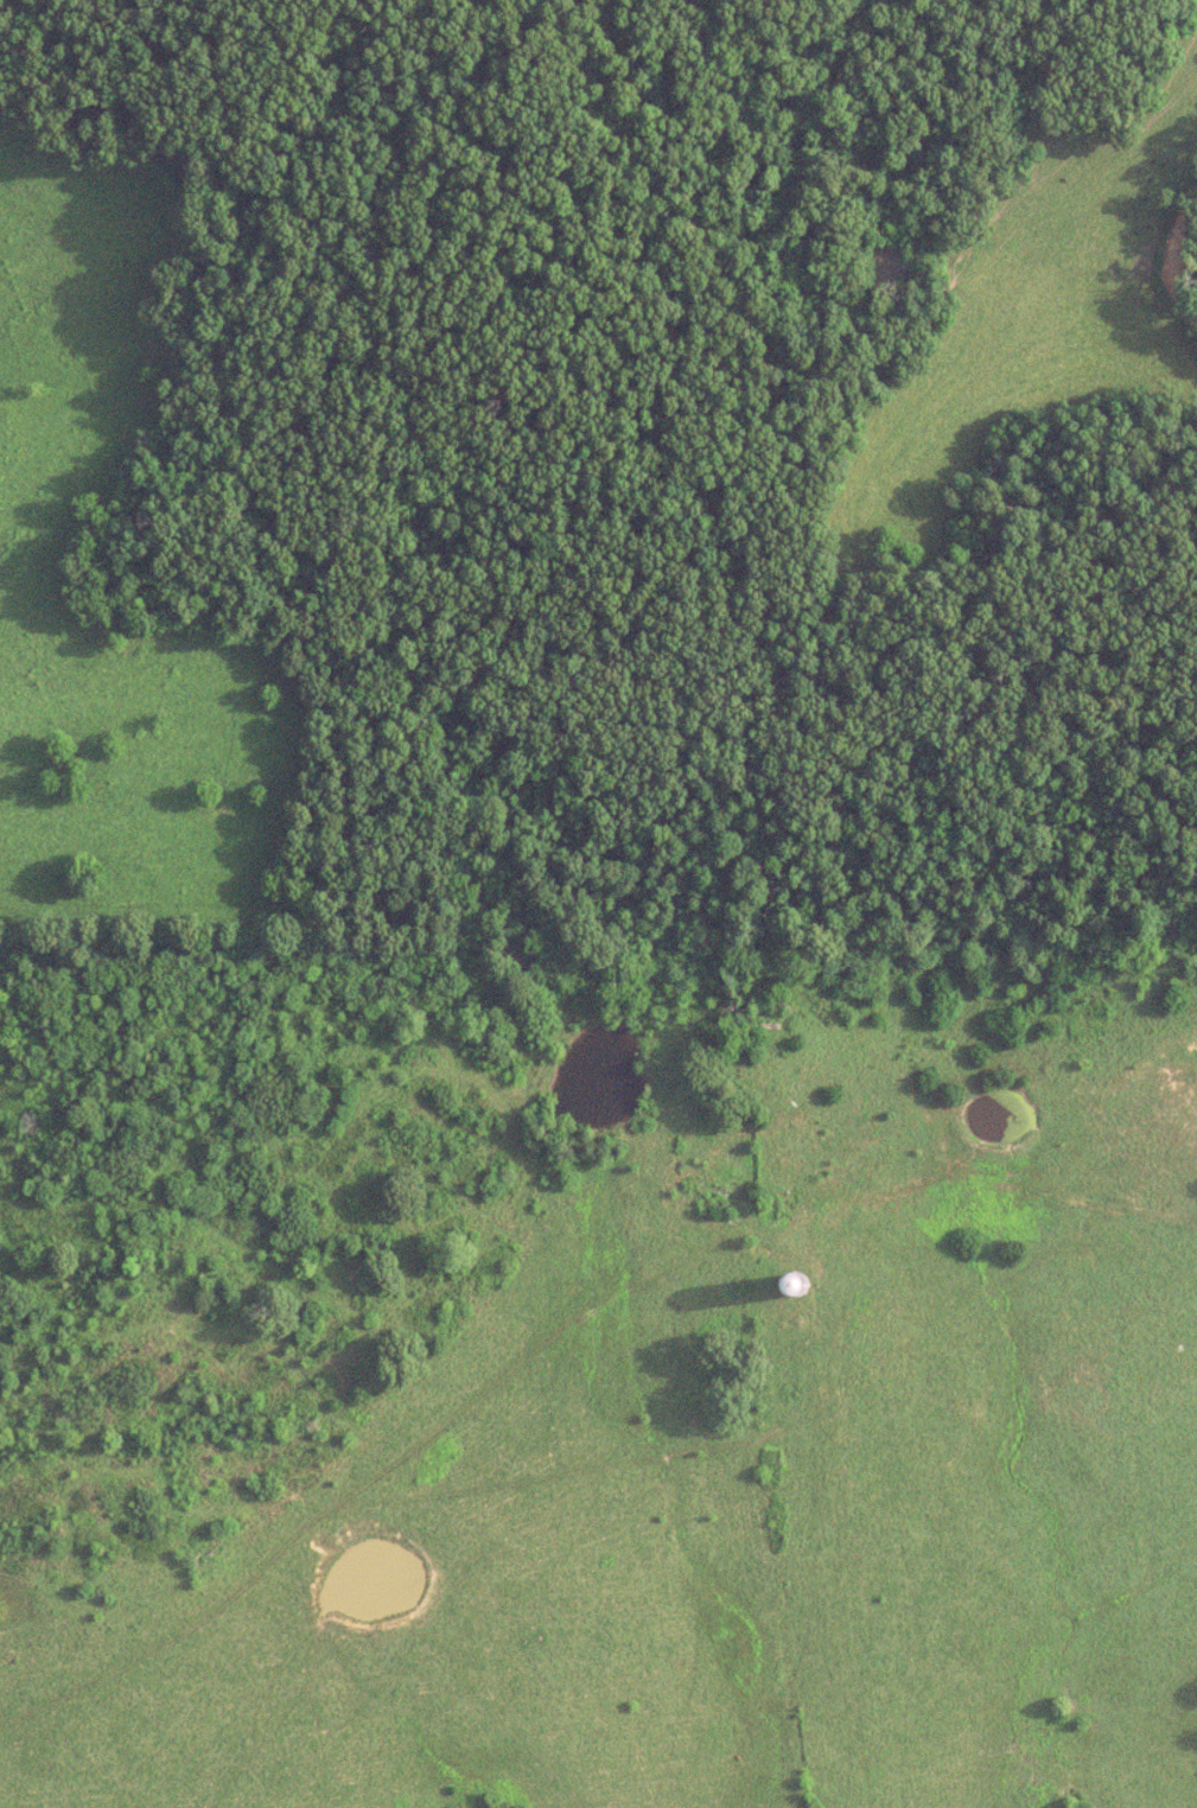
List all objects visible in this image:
road: (1176, 257)

